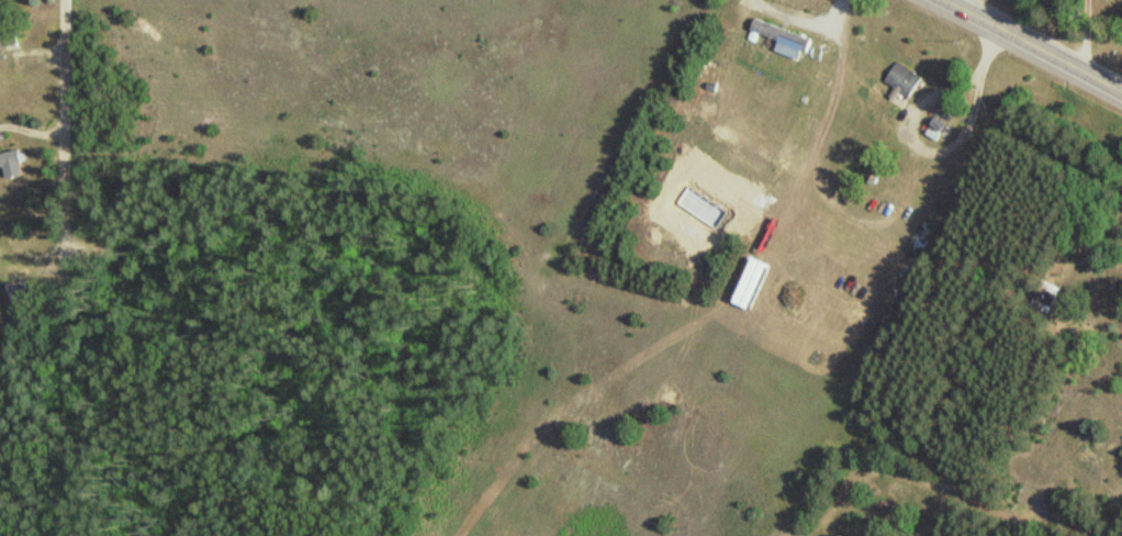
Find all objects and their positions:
park: (1078, 21)
building: (779, 34)
road: (1084, 37)
building: (1, 43)
road: (1031, 47)
building: (902, 79)
building: (12, 164)
road: (66, 268)
building: (15, 305)

